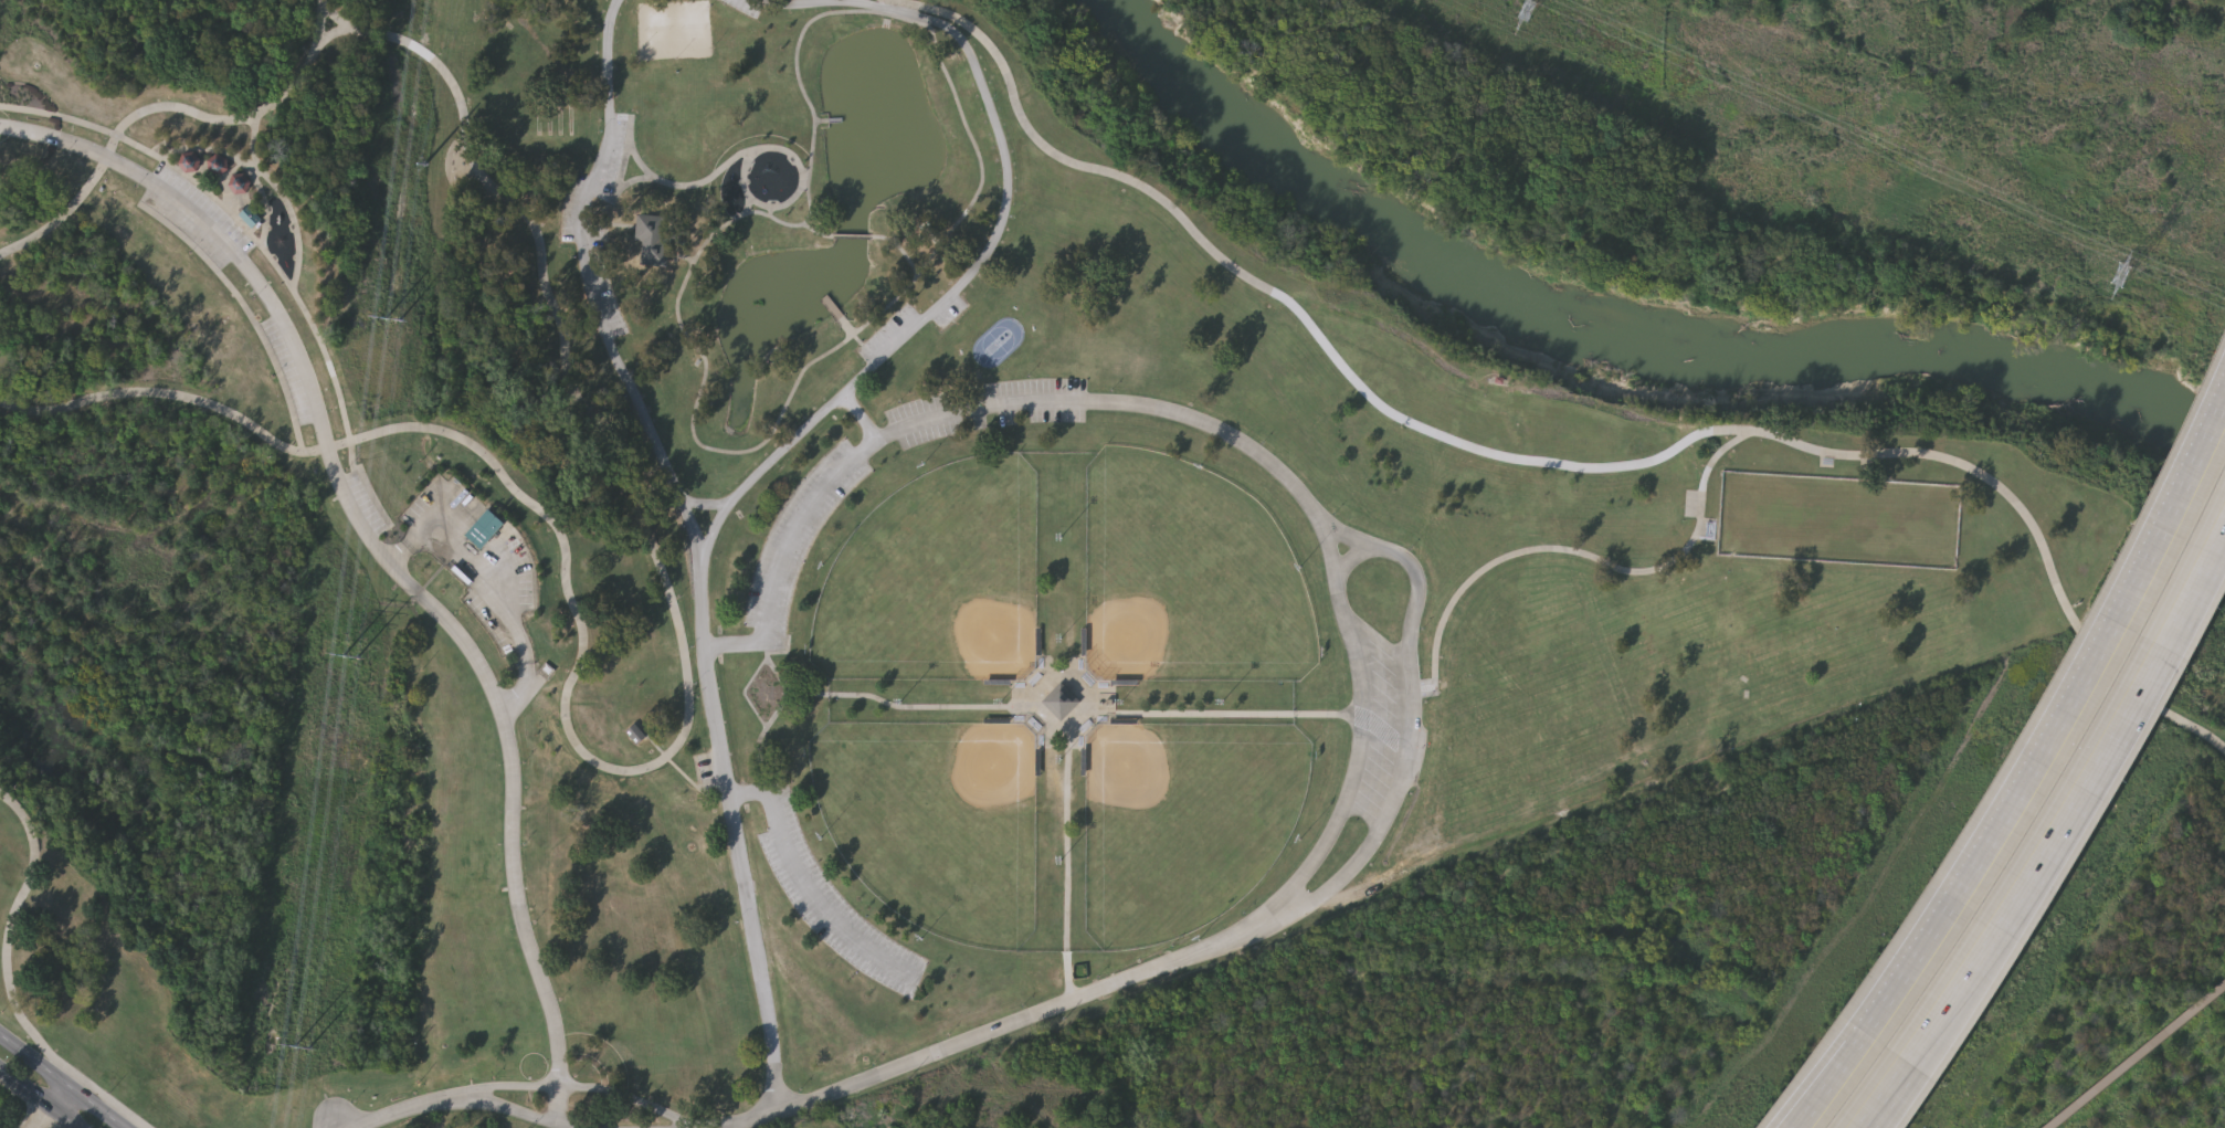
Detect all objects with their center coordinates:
power tower: (1528, 11)
road: (820, 19)
road: (168, 110)
pier: (827, 123)
parking lot: (614, 160)
building: (222, 170)
building: (773, 186)
parking lot: (573, 211)
building: (254, 221)
road: (815, 234)
road: (852, 239)
building: (655, 242)
road: (990, 245)
road: (901, 252)
power tower: (2128, 278)
road: (588, 286)
road: (1265, 292)
parking lot: (609, 303)
pier: (840, 318)
power tower: (393, 321)
river: (1617, 325)
road: (971, 410)
road: (861, 418)
road: (1722, 451)
road: (705, 506)
road: (2026, 523)
building: (489, 533)
road: (1375, 547)
road: (1574, 551)
park: (816, 556)
road: (1354, 559)
road: (384, 561)
road: (497, 582)
park: (940, 584)
park: (1188, 584)
power tower: (349, 660)
building: (1058, 705)
road: (2060, 731)
building: (636, 736)
road: (646, 770)
park: (939, 823)
park: (1187, 824)
road: (737, 836)
road: (2056, 844)
road: (805, 887)
road: (9, 982)
road: (1004, 1027)
power tower: (302, 1051)
road: (2138, 1056)
road: (1844, 1079)
road: (59, 1083)
road: (584, 1090)
road: (39, 1098)
road: (51, 1108)
road: (412, 1110)
road: (510, 1114)

